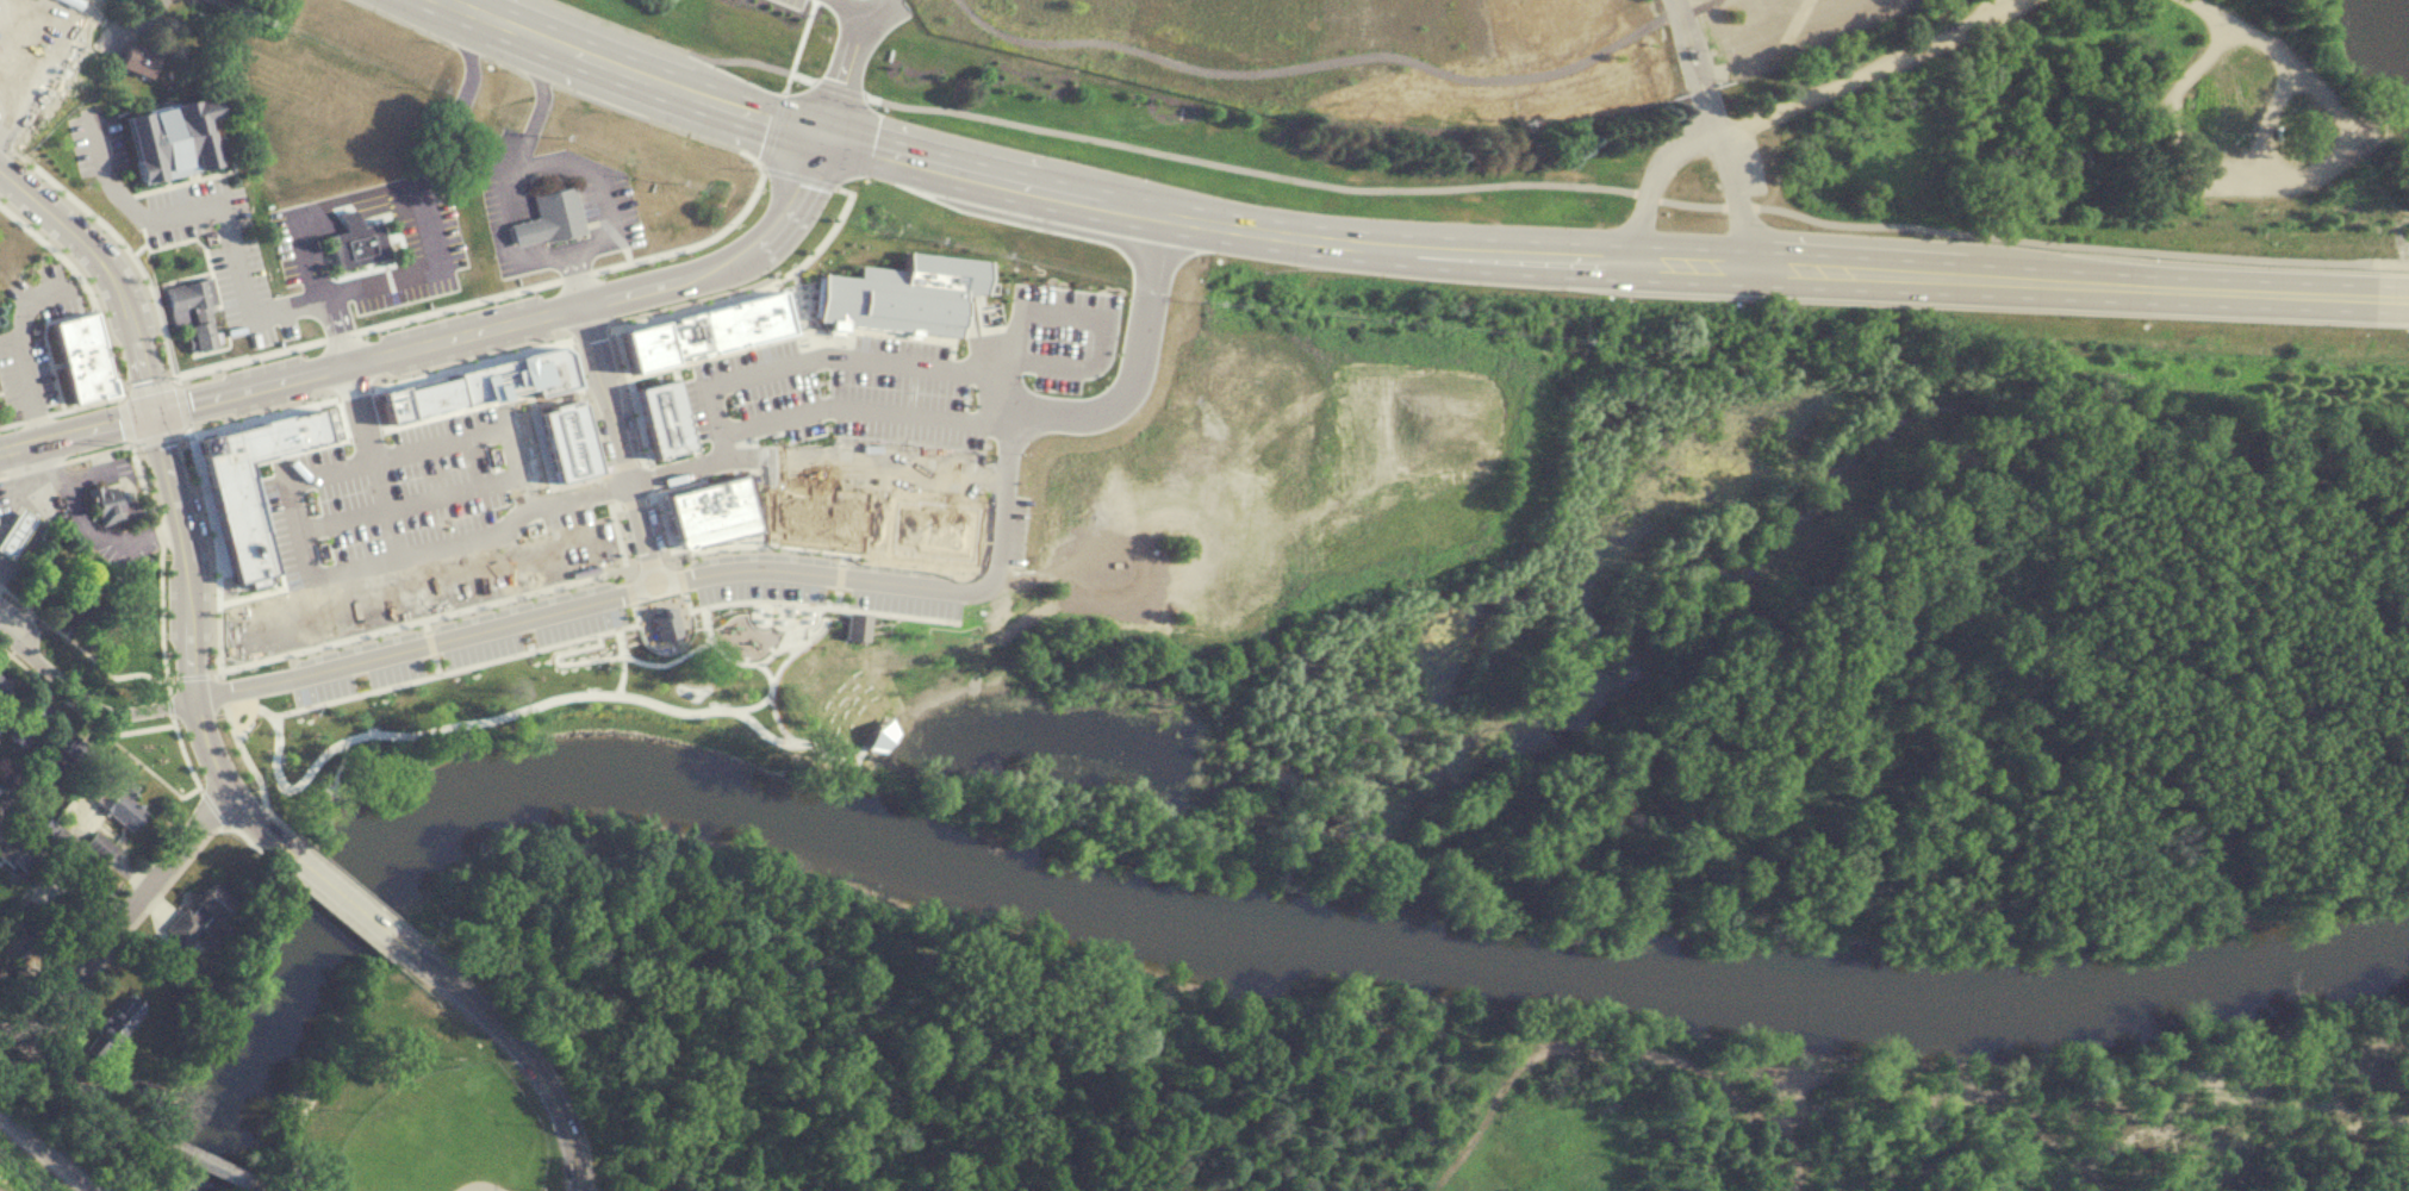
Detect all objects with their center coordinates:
road: (853, 10)
building: (1258, 12)
road: (1683, 19)
road: (799, 45)
road: (2276, 46)
road: (683, 49)
parking lot: (33, 50)
road: (847, 57)
road: (2334, 58)
building: (135, 60)
road: (1866, 68)
road: (542, 81)
road: (1699, 86)
road: (840, 88)
road: (463, 99)
road: (773, 129)
traffic signals: (821, 133)
building: (176, 137)
parking lot: (97, 141)
road: (749, 157)
road: (2203, 167)
road: (106, 169)
road: (798, 175)
road: (1649, 179)
road: (1613, 189)
road: (1084, 194)
road: (1737, 194)
road: (357, 198)
road: (362, 217)
building: (552, 218)
road: (428, 223)
road: (35, 232)
parking lot: (214, 236)
road: (120, 238)
parking lot: (291, 244)
building: (357, 244)
road: (696, 244)
parking lot: (419, 255)
road: (523, 261)
road: (2388, 263)
road: (577, 273)
road: (575, 276)
road: (81, 279)
road: (2075, 281)
road: (755, 283)
road: (317, 288)
road: (447, 297)
building: (909, 297)
road: (459, 305)
building: (192, 311)
road: (250, 312)
road: (15, 328)
road: (590, 332)
building: (709, 332)
road: (443, 335)
road: (341, 336)
road: (45, 341)
road: (1102, 344)
road: (104, 348)
building: (773, 356)
road: (245, 357)
road: (469, 360)
building: (83, 361)
road: (798, 362)
road: (147, 384)
road: (353, 387)
building: (485, 392)
road: (87, 401)
road: (180, 404)
parking lot: (907, 405)
road: (150, 407)
road: (584, 407)
road: (256, 411)
traffic signals: (151, 412)
road: (35, 416)
road: (124, 419)
road: (1017, 419)
road: (10, 423)
building: (664, 424)
road: (156, 437)
road: (620, 442)
building: (567, 447)
road: (67, 460)
road: (371, 460)
road: (865, 460)
building: (429, 461)
road: (1006, 468)
building: (179, 473)
road: (14, 482)
building: (253, 486)
building: (273, 486)
road: (35, 487)
road: (604, 490)
road: (291, 491)
road: (578, 494)
parking lot: (410, 498)
road: (410, 501)
building: (919, 503)
building: (105, 504)
building: (711, 515)
building: (816, 520)
building: (585, 522)
building: (12, 526)
road: (83, 528)
building: (928, 536)
road: (214, 548)
road: (161, 565)
parking lot: (824, 582)
road: (592, 601)
building: (80, 605)
road: (450, 612)
road: (17, 632)
building: (718, 636)
building: (783, 640)
parking lot: (454, 642)
building: (160, 643)
building: (672, 647)
road: (80, 648)
road: (191, 675)
road: (220, 691)
road: (170, 704)
building: (231, 704)
road: (101, 710)
building: (24, 722)
road: (471, 722)
road: (98, 727)
road: (183, 752)
building: (64, 754)
road: (248, 761)
road: (229, 785)
building: (119, 797)
road: (212, 806)
building: (29, 818)
building: (97, 844)
road: (188, 854)
building: (18, 858)
road: (61, 872)
road: (348, 879)
road: (320, 900)
road: (347, 902)
building: (197, 913)
road: (126, 915)
river: (1194, 925)
road: (403, 966)
road: (18, 1011)
road: (7, 1034)
road: (518, 1049)
road: (83, 1090)
park: (403, 1102)
road: (292, 1139)
railway: (35, 1147)
road: (195, 1160)
building: (224, 1172)
park: (2360, 1176)
railway: (77, 1184)
road: (251, 1185)

